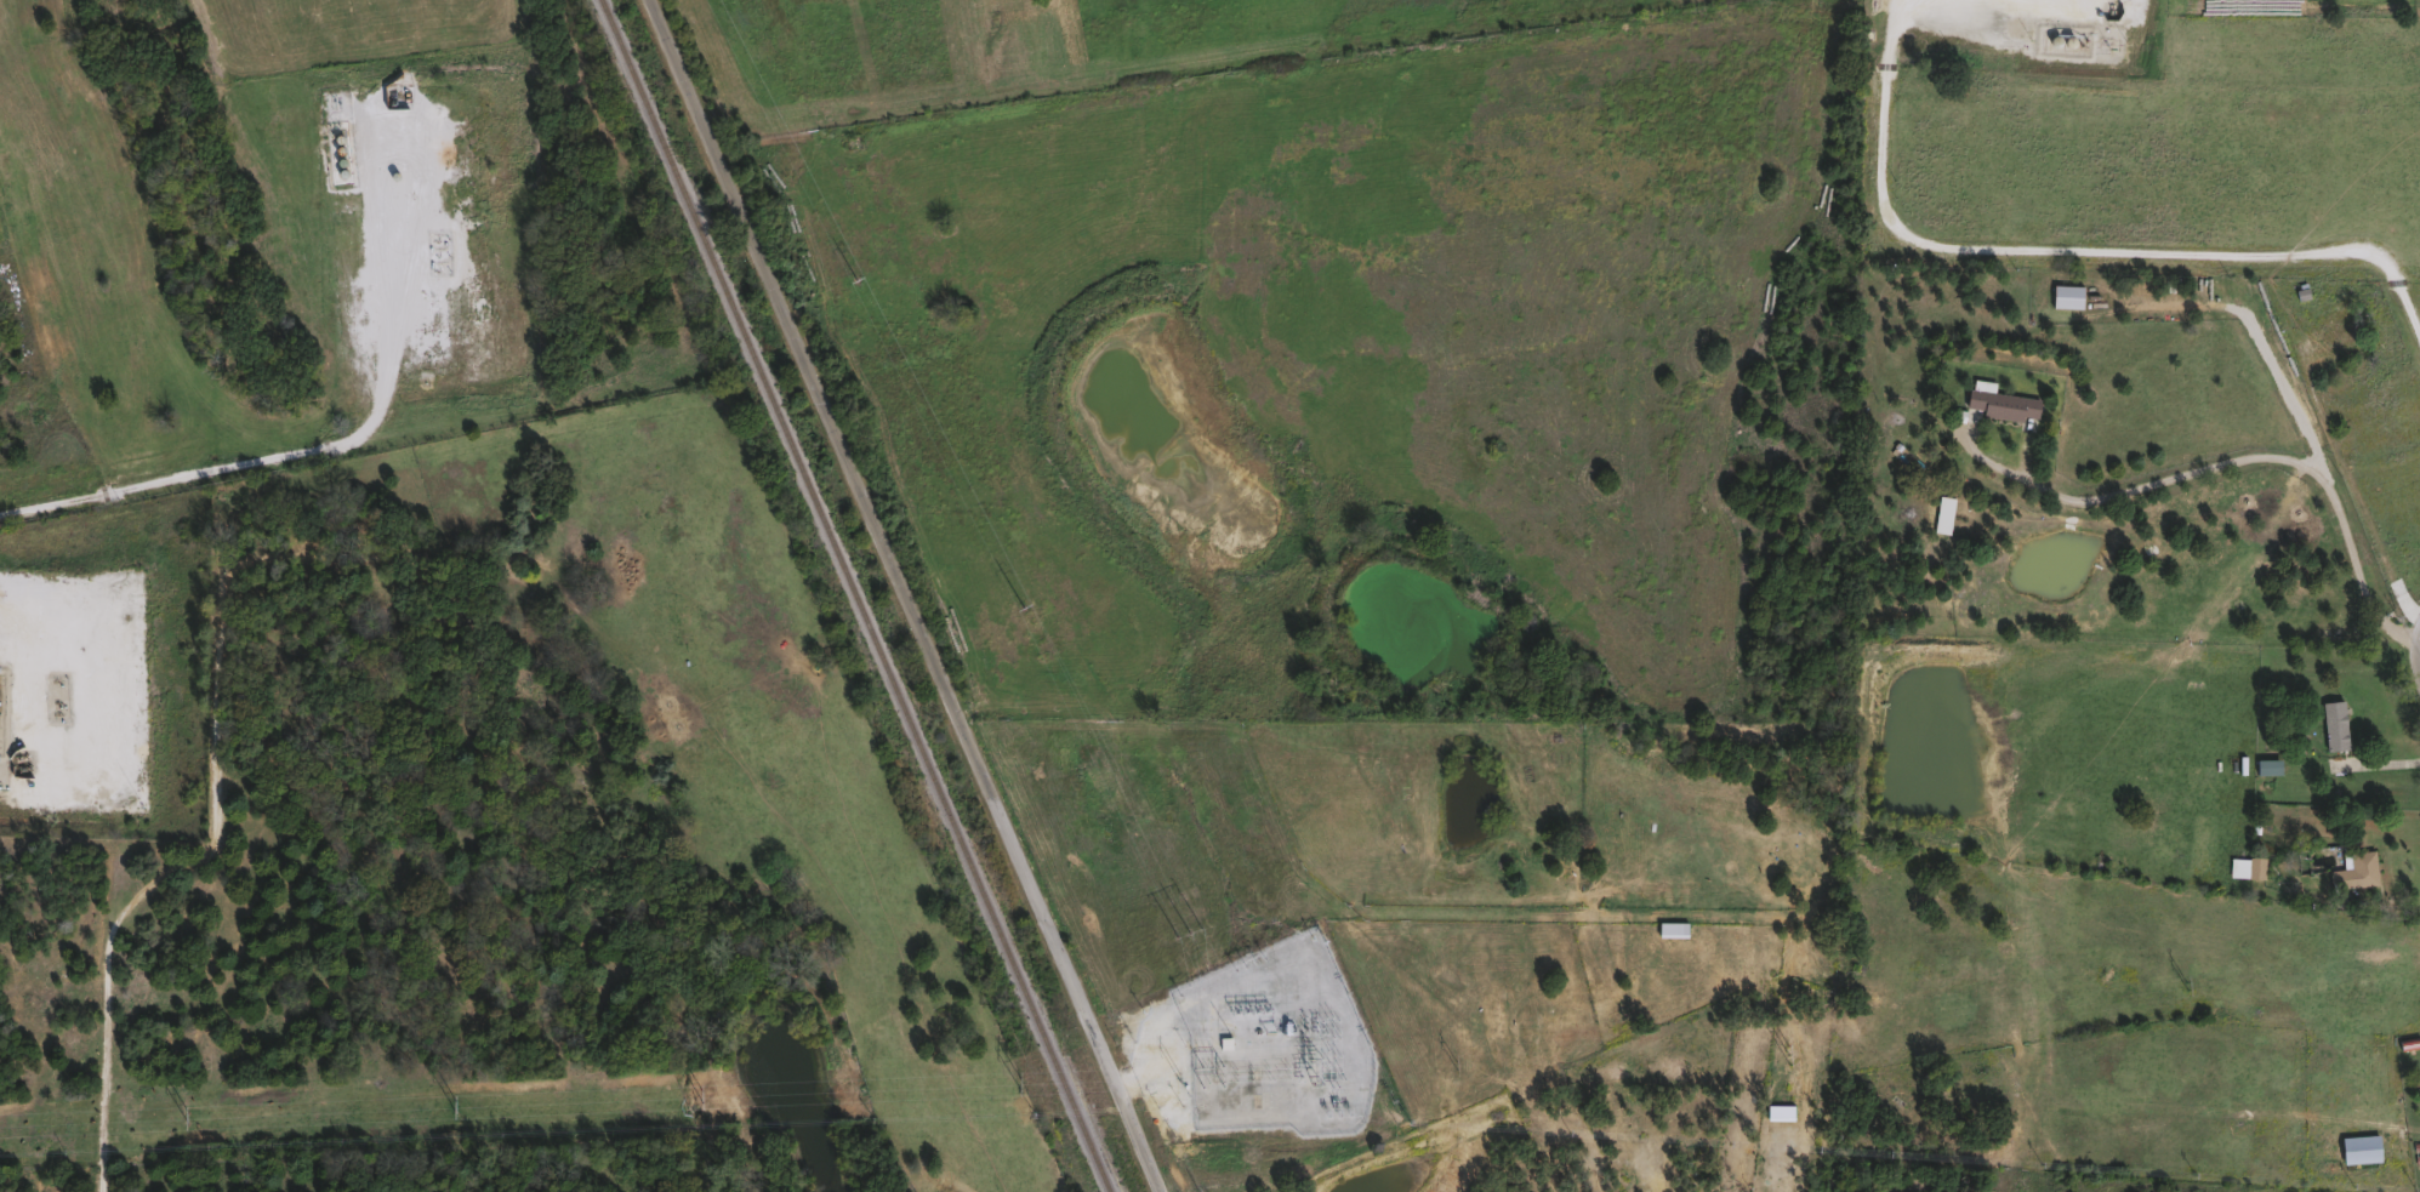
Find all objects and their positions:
road: (2062, 251)
building: (2065, 296)
road: (2248, 316)
building: (2333, 330)
building: (1999, 406)
road: (325, 445)
road: (2236, 460)
railway: (854, 595)
road: (911, 595)
building: (2333, 725)
road: (2378, 764)
building: (2265, 766)
building: (2245, 867)
building: (2353, 871)
road: (2399, 903)
building: (1672, 929)
power tower: (2186, 983)
power tower: (1789, 1053)
power tower: (1457, 1062)
power substation: (1258, 1067)
power tower: (1322, 1067)
road: (106, 1071)
power tower: (1180, 1073)
power tower: (1020, 1080)
power tower: (454, 1105)
power tower: (187, 1116)
building: (2359, 1147)

